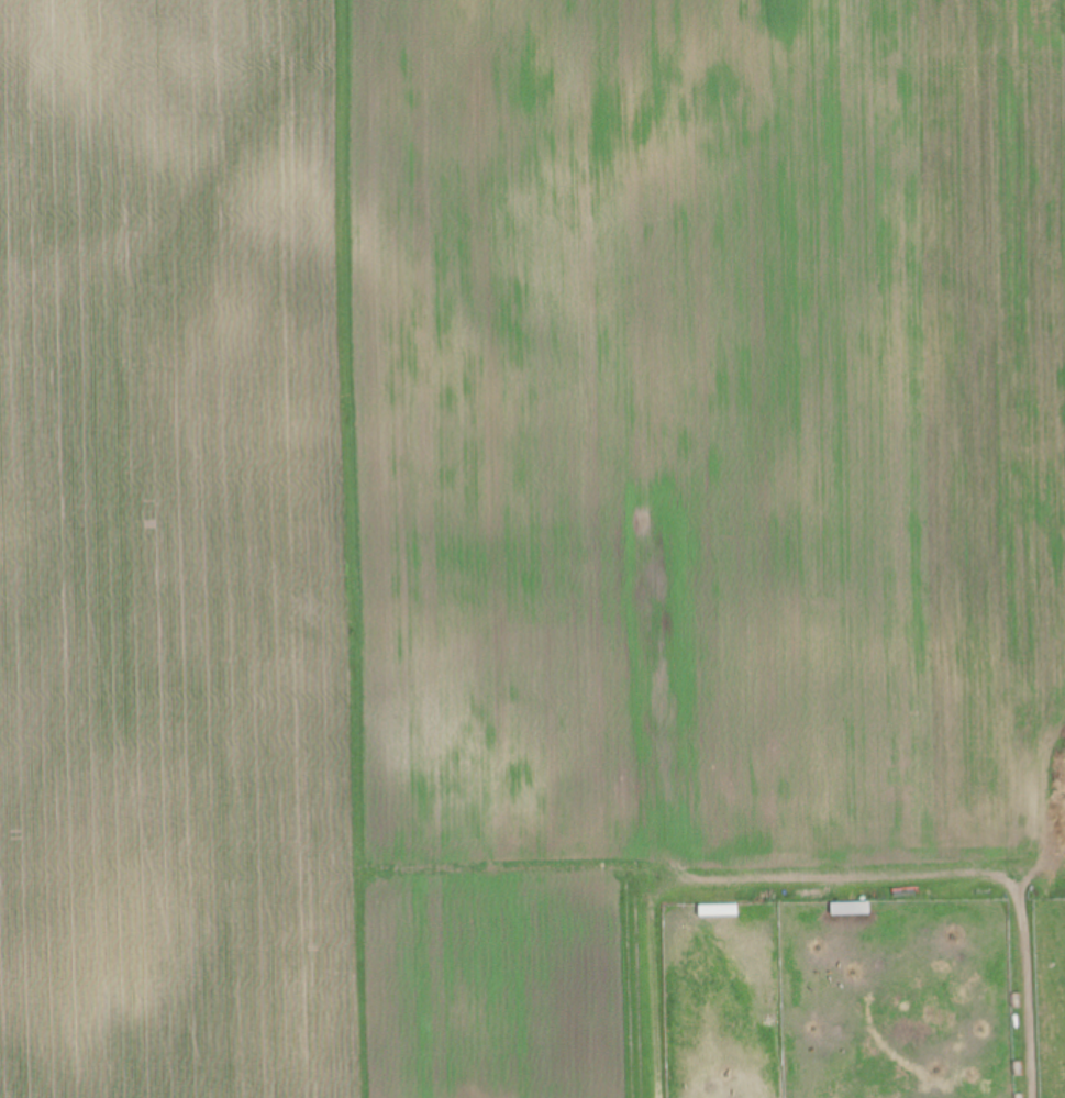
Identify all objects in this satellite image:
building: (850, 908)
building: (718, 909)

